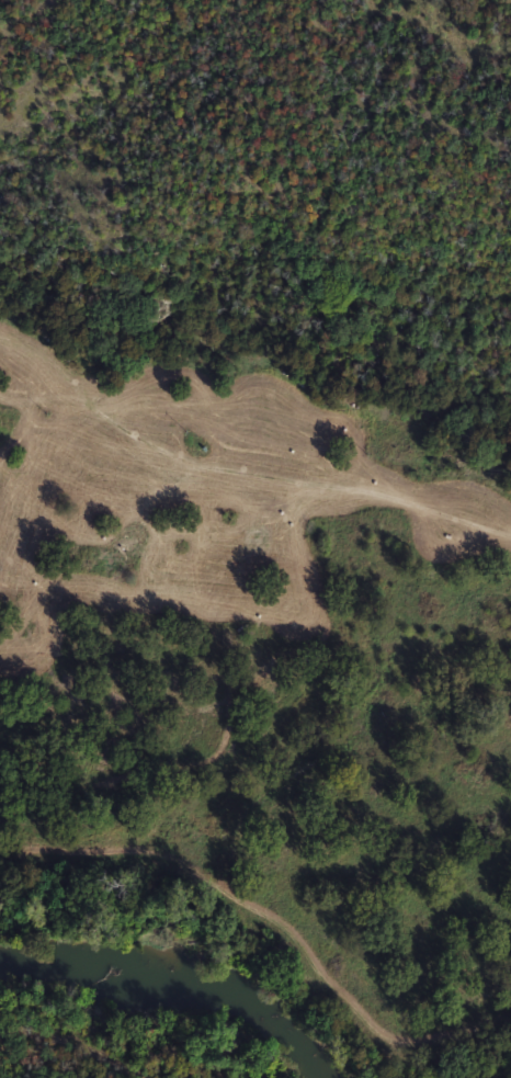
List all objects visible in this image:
road: (238, 470)
river: (177, 995)

